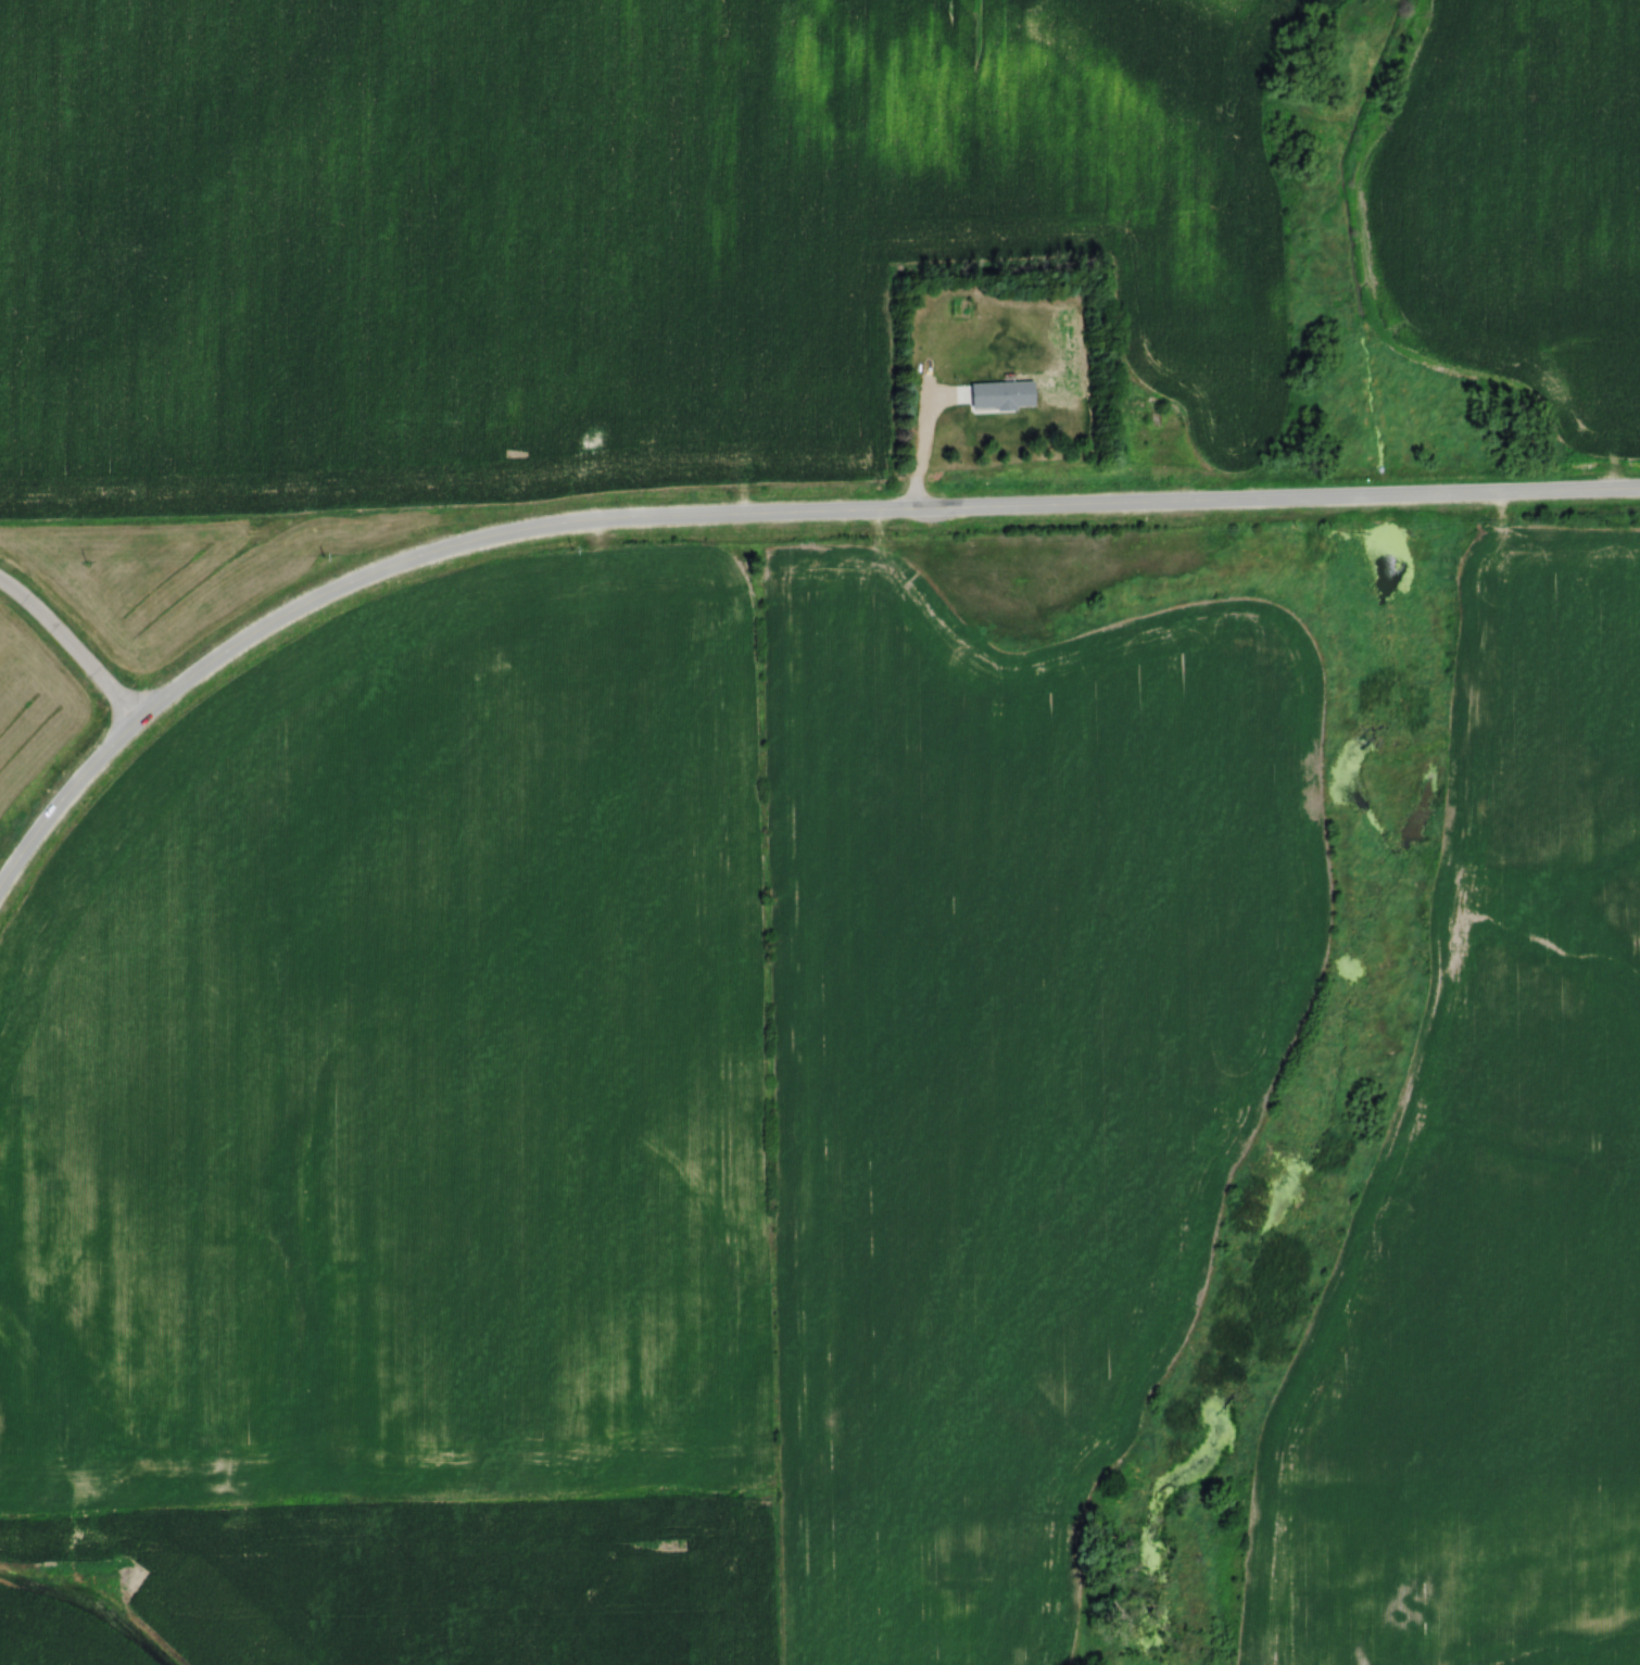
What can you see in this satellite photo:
crop: (1515, 205)
building: (962, 310)
building: (1036, 330)
road: (964, 428)
road: (863, 510)
road: (73, 644)
road: (63, 799)
crop: (403, 1061)

